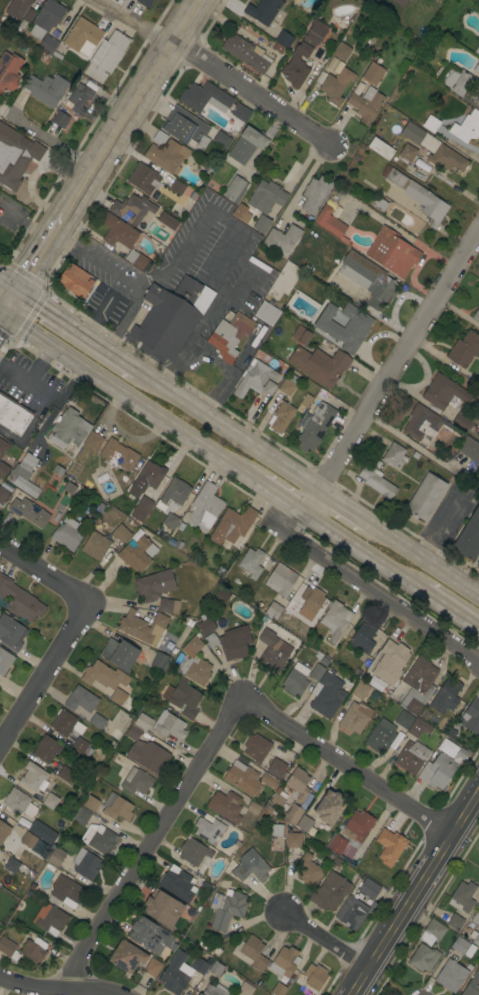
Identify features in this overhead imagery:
building: (475, 1)
building: (400, 2)
building: (145, 3)
building: (17, 8)
building: (264, 10)
building: (46, 18)
building: (25, 20)
road: (133, 23)
building: (82, 36)
building: (284, 38)
building: (48, 44)
building: (342, 51)
building: (477, 51)
building: (244, 53)
building: (303, 54)
building: (106, 56)
building: (476, 68)
building: (9, 71)
building: (373, 73)
building: (457, 81)
building: (336, 85)
building: (46, 88)
road: (256, 95)
building: (205, 97)
building: (78, 100)
building: (366, 104)
road: (133, 107)
building: (478, 108)
building: (241, 111)
building: (60, 119)
building: (431, 124)
building: (467, 127)
building: (186, 128)
building: (159, 137)
building: (222, 139)
road: (49, 140)
building: (247, 145)
building: (379, 148)
building: (434, 148)
building: (408, 152)
building: (167, 155)
building: (14, 161)
building: (144, 178)
building: (177, 187)
building: (233, 188)
building: (315, 194)
building: (269, 195)
building: (417, 195)
building: (379, 204)
building: (133, 210)
building: (244, 213)
building: (166, 220)
road: (226, 224)
building: (262, 224)
building: (331, 224)
building: (118, 231)
building: (281, 239)
building: (393, 252)
road: (40, 253)
road: (182, 254)
building: (139, 260)
road: (99, 262)
road: (225, 265)
building: (368, 278)
building: (75, 280)
road: (8, 287)
road: (11, 302)
road: (2, 309)
building: (267, 313)
road: (2, 315)
building: (172, 315)
building: (476, 315)
road: (96, 317)
road: (126, 317)
road: (201, 329)
road: (76, 332)
building: (341, 333)
building: (230, 335)
building: (301, 335)
building: (464, 349)
road: (215, 359)
building: (320, 365)
road: (391, 370)
building: (256, 379)
building: (286, 386)
road: (131, 393)
building: (444, 393)
building: (305, 400)
building: (13, 415)
building: (280, 417)
building: (465, 420)
building: (423, 423)
building: (314, 426)
building: (68, 428)
road: (226, 431)
building: (93, 441)
road: (406, 442)
building: (2, 447)
building: (469, 449)
building: (118, 455)
building: (395, 455)
building: (76, 468)
building: (58, 469)
building: (3, 470)
building: (151, 474)
building: (25, 475)
building: (376, 481)
building: (69, 487)
building: (2, 494)
building: (173, 494)
road: (280, 494)
building: (425, 497)
road: (341, 506)
building: (141, 508)
building: (204, 508)
building: (28, 510)
building: (170, 520)
road: (442, 521)
building: (232, 525)
building: (121, 533)
building: (67, 534)
building: (469, 538)
building: (95, 545)
road: (363, 550)
building: (137, 553)
road: (423, 557)
building: (252, 562)
building: (478, 563)
road: (43, 569)
building: (280, 579)
building: (236, 582)
building: (154, 585)
road: (366, 587)
building: (221, 594)
building: (20, 600)
building: (311, 601)
building: (168, 606)
building: (273, 610)
road: (450, 610)
building: (336, 620)
building: (205, 625)
building: (143, 627)
building: (11, 633)
building: (363, 638)
building: (231, 643)
building: (272, 651)
road: (471, 652)
building: (119, 653)
building: (5, 661)
building: (160, 661)
building: (194, 662)
building: (391, 662)
road: (468, 666)
road: (43, 668)
building: (316, 671)
building: (295, 679)
building: (109, 681)
building: (418, 685)
building: (360, 690)
building: (326, 695)
building: (181, 697)
building: (446, 697)
building: (80, 699)
building: (79, 712)
building: (472, 716)
building: (355, 717)
building: (404, 719)
building: (97, 721)
building: (142, 721)
building: (66, 723)
building: (169, 725)
building: (418, 728)
building: (381, 735)
building: (79, 746)
building: (46, 748)
building: (256, 748)
building: (146, 752)
building: (412, 756)
road: (346, 766)
building: (276, 767)
building: (441, 769)
building: (67, 775)
building: (242, 777)
building: (33, 778)
building: (268, 780)
building: (136, 781)
building: (298, 783)
building: (51, 801)
building: (278, 801)
building: (19, 803)
building: (90, 803)
building: (226, 805)
building: (117, 807)
building: (330, 807)
building: (253, 808)
building: (293, 814)
building: (81, 816)
building: (306, 824)
building: (209, 830)
building: (276, 830)
building: (3, 831)
building: (41, 831)
building: (351, 832)
building: (100, 838)
building: (28, 840)
building: (293, 840)
road: (151, 842)
road: (464, 844)
building: (390, 846)
building: (193, 851)
building: (56, 857)
building: (86, 864)
building: (16, 866)
building: (250, 867)
building: (308, 869)
building: (177, 884)
building: (368, 887)
building: (329, 891)
road: (413, 891)
building: (65, 893)
building: (462, 897)
building: (162, 908)
building: (226, 908)
building: (354, 912)
building: (49, 918)
building: (476, 918)
building: (455, 922)
building: (432, 932)
building: (147, 934)
building: (474, 937)
road: (324, 940)
building: (462, 947)
building: (8, 948)
building: (33, 950)
building: (250, 955)
building: (127, 957)
building: (423, 958)
building: (295, 960)
building: (283, 963)
building: (199, 966)
building: (152, 967)
building: (215, 968)
building: (175, 973)
building: (451, 975)
building: (315, 976)
road: (386, 981)
building: (472, 984)
building: (245, 988)
building: (278, 989)
road: (56, 990)
building: (214, 990)

